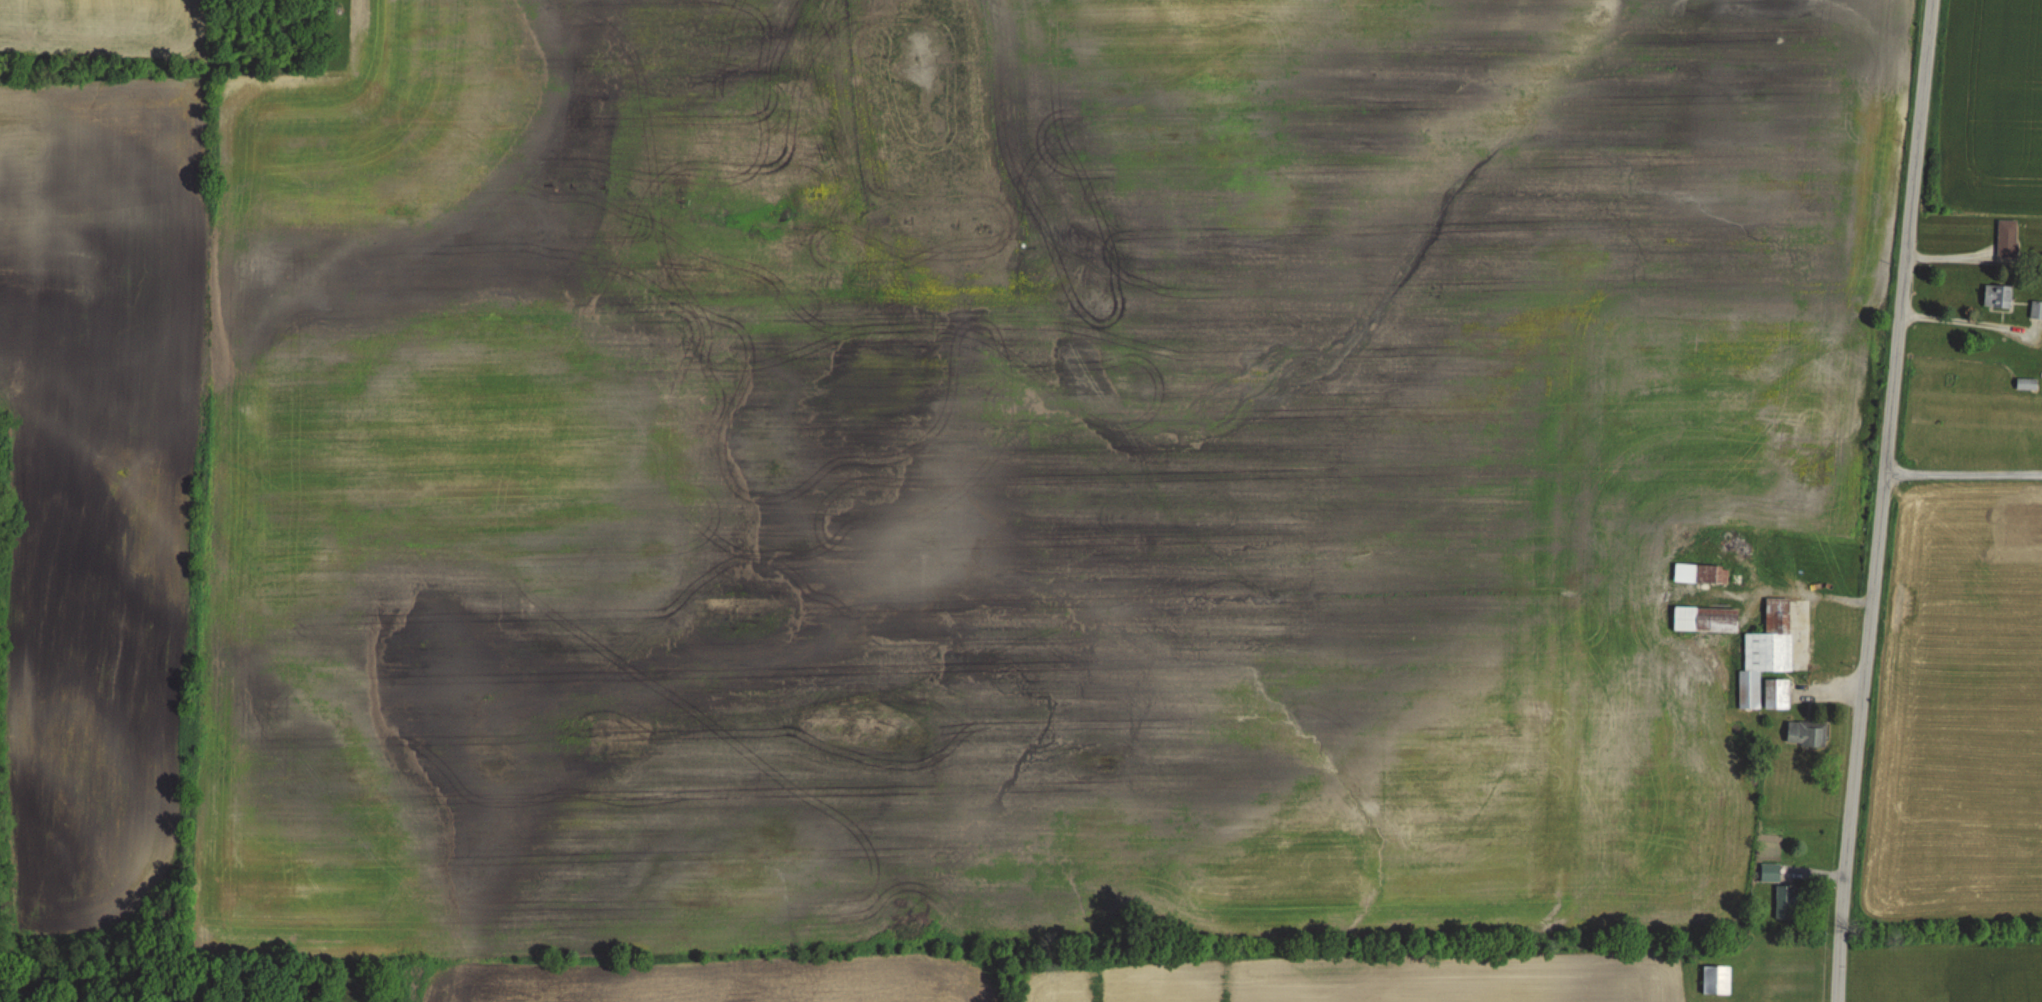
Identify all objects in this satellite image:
building: (2006, 239)
building: (1997, 296)
building: (2036, 310)
road: (1960, 320)
building: (2026, 384)
road: (1968, 473)
road: (1889, 501)
building: (1711, 575)
building: (1705, 620)
building: (1765, 652)
building: (1776, 694)
building: (1806, 734)
building: (1770, 873)
building: (1785, 903)
building: (1716, 981)

